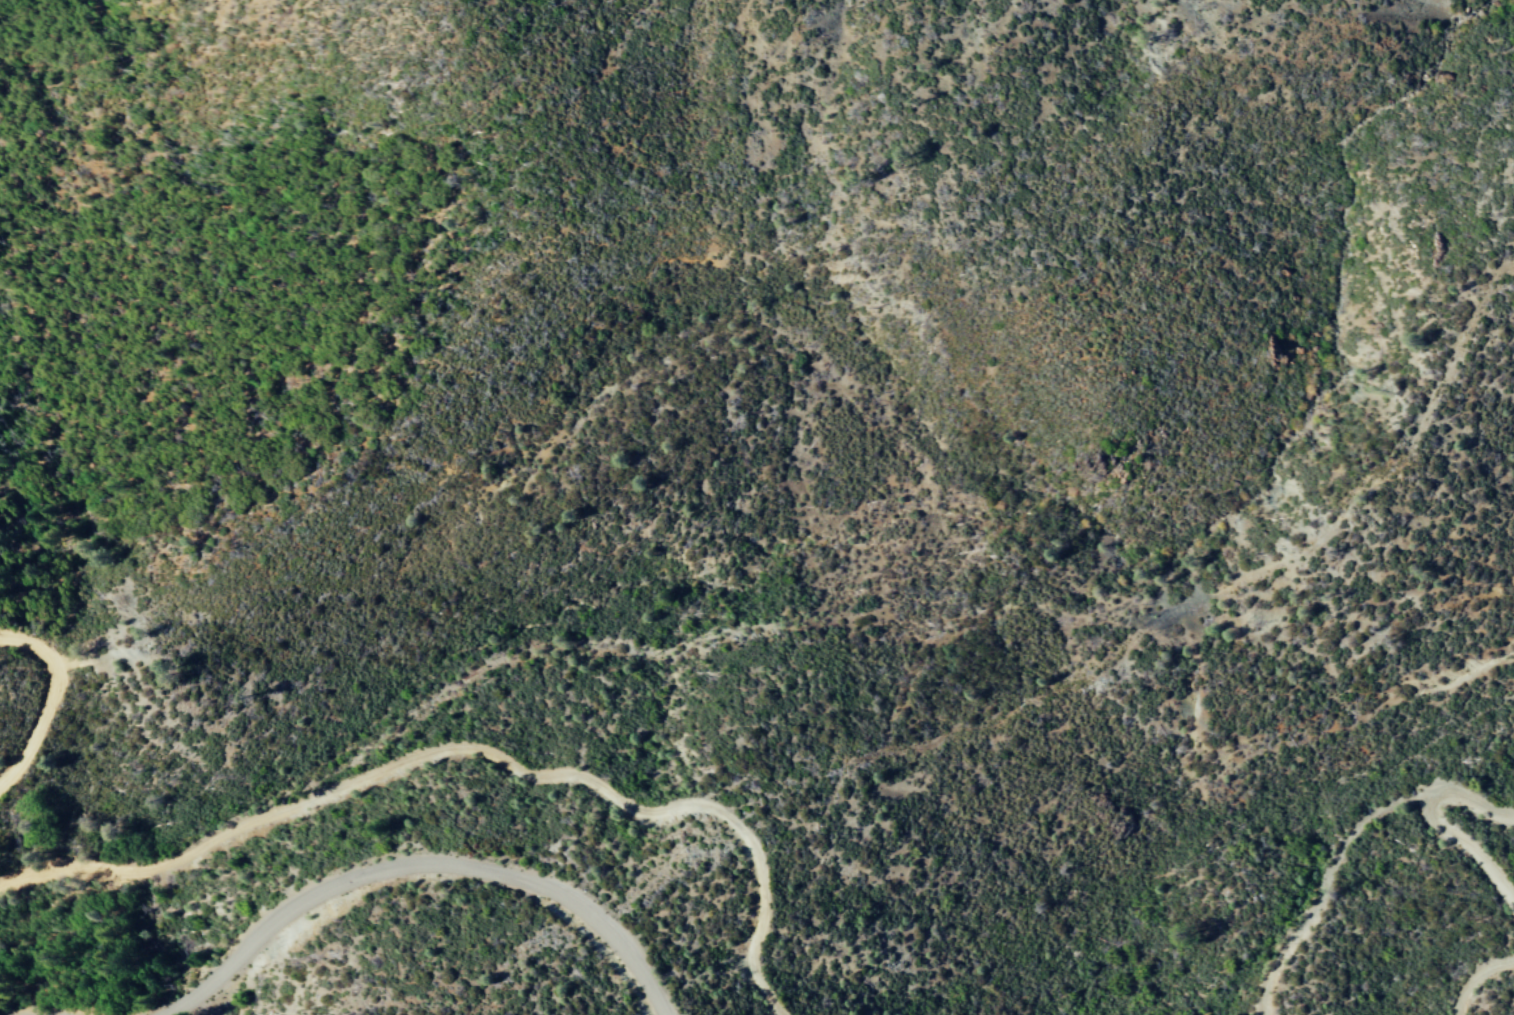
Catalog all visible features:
road: (55, 706)
road: (466, 751)
road: (1442, 822)
road: (425, 864)
road: (1477, 979)

